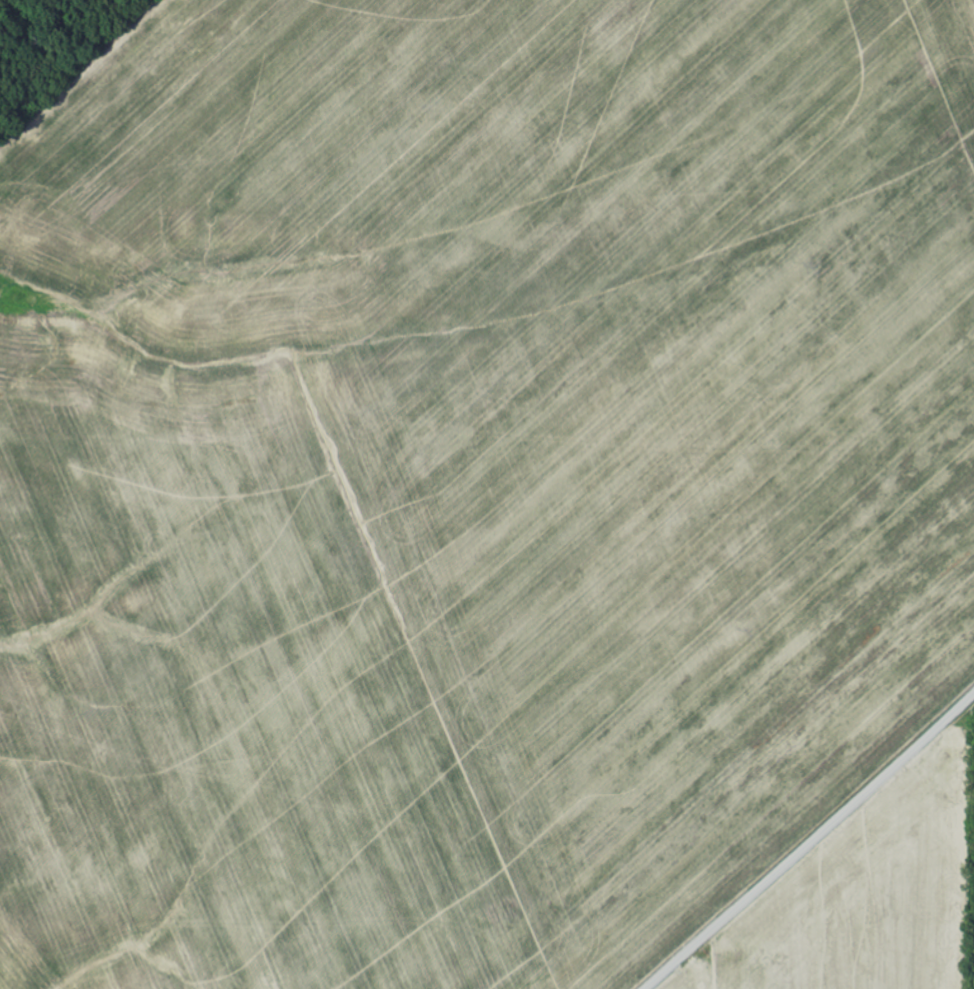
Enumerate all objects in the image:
road: (810, 841)

